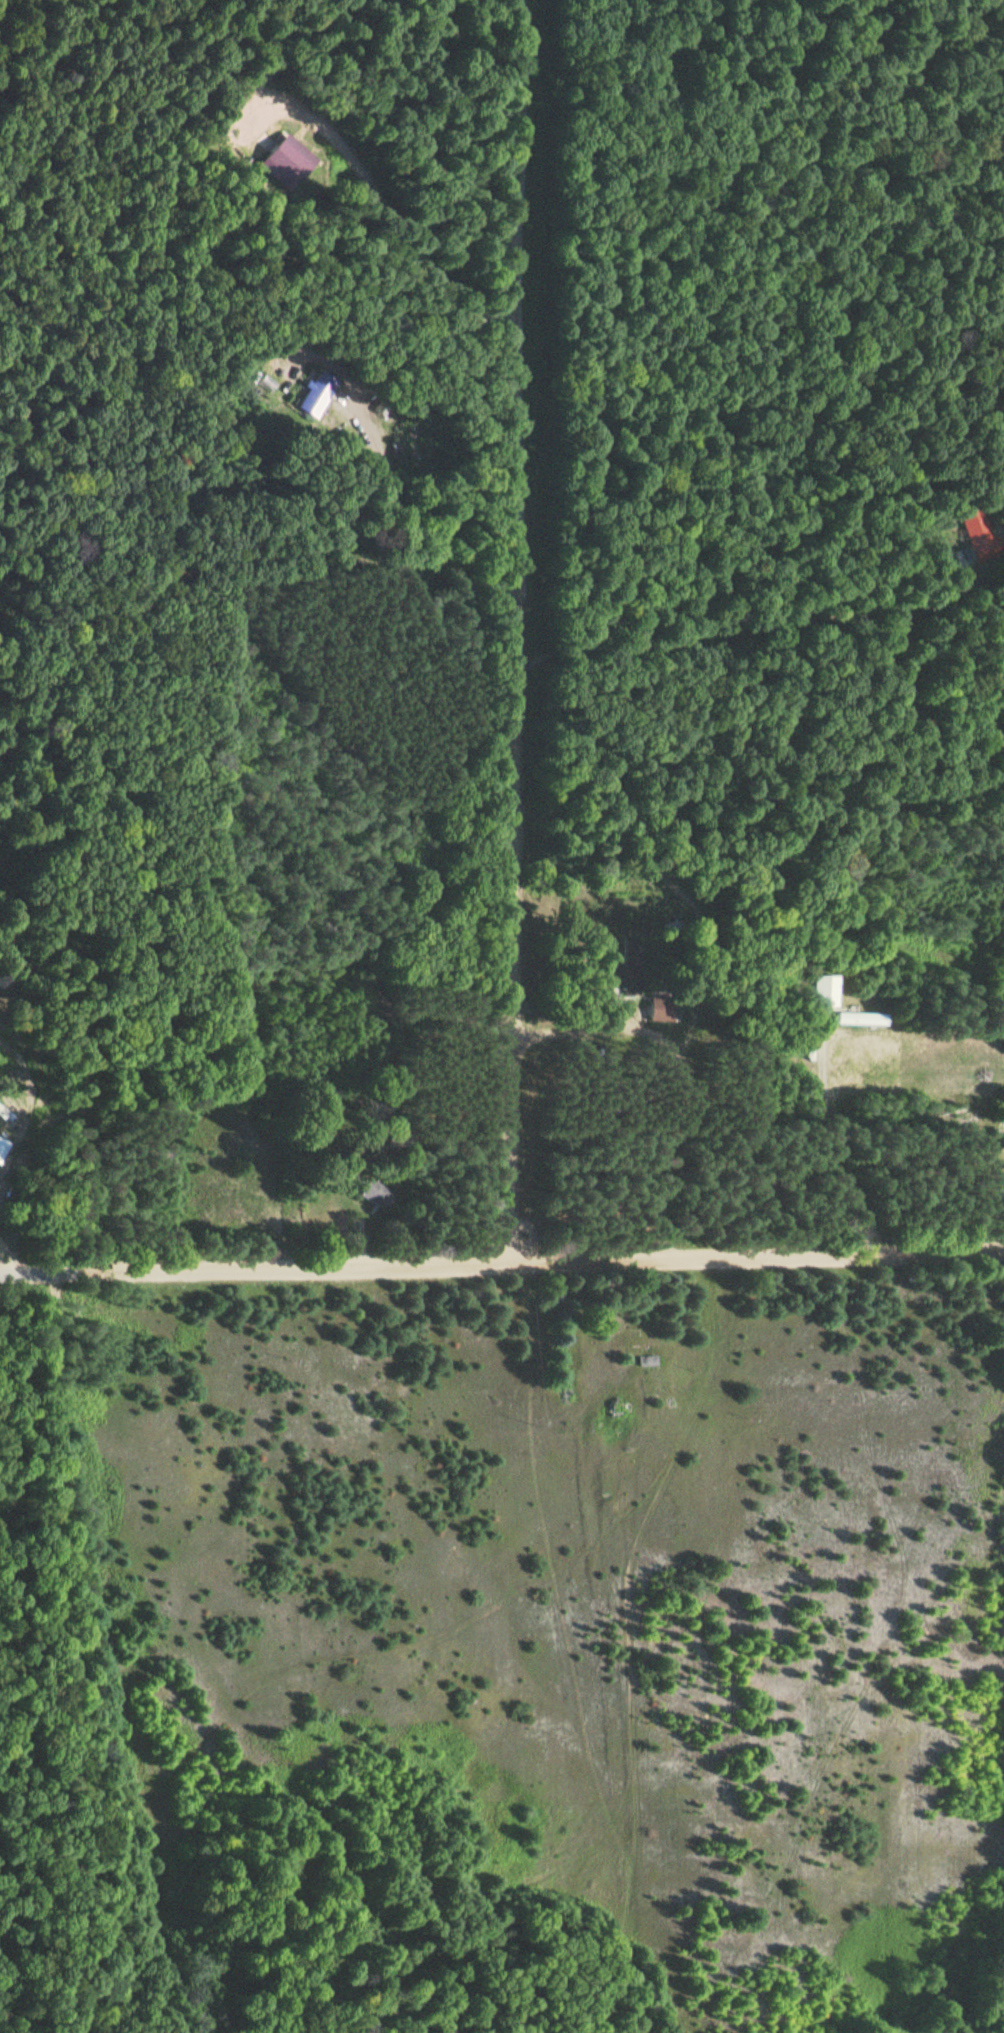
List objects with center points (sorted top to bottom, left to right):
building: (290, 158)
building: (318, 393)
building: (978, 534)
road: (522, 631)
building: (630, 971)
building: (828, 990)
building: (665, 1007)
building: (866, 1018)
building: (5, 1147)
building: (375, 1193)
road: (501, 1262)
building: (557, 1293)
building: (647, 1359)

